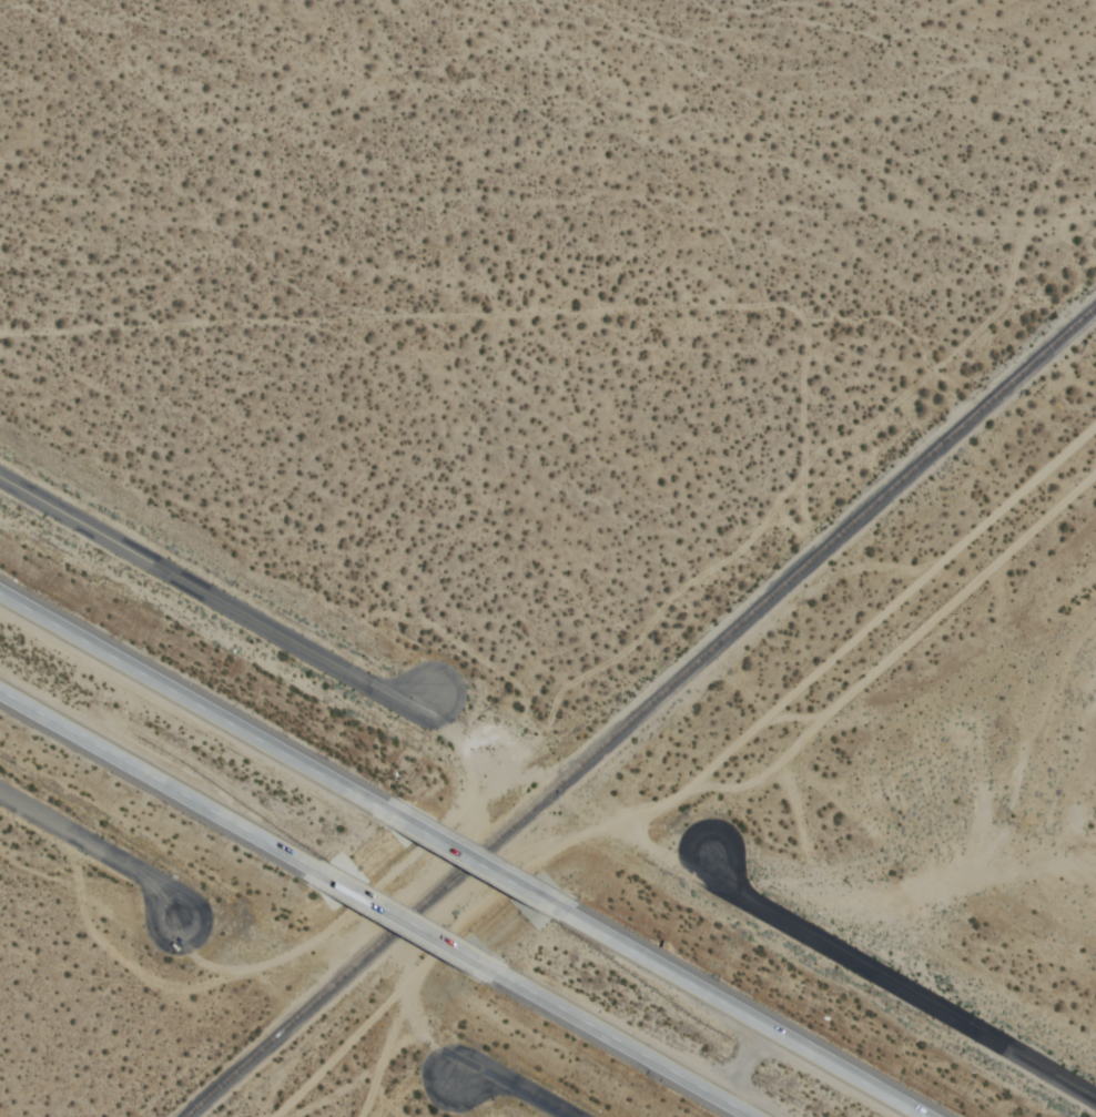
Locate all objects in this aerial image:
road: (548, 254)
crop: (562, 297)
road: (213, 599)
road: (190, 697)
railway: (638, 708)
crop: (952, 734)
road: (156, 778)
road: (98, 849)
road: (473, 860)
road: (406, 922)
road: (895, 984)
road: (744, 1014)
road: (626, 1046)
road: (517, 1086)

